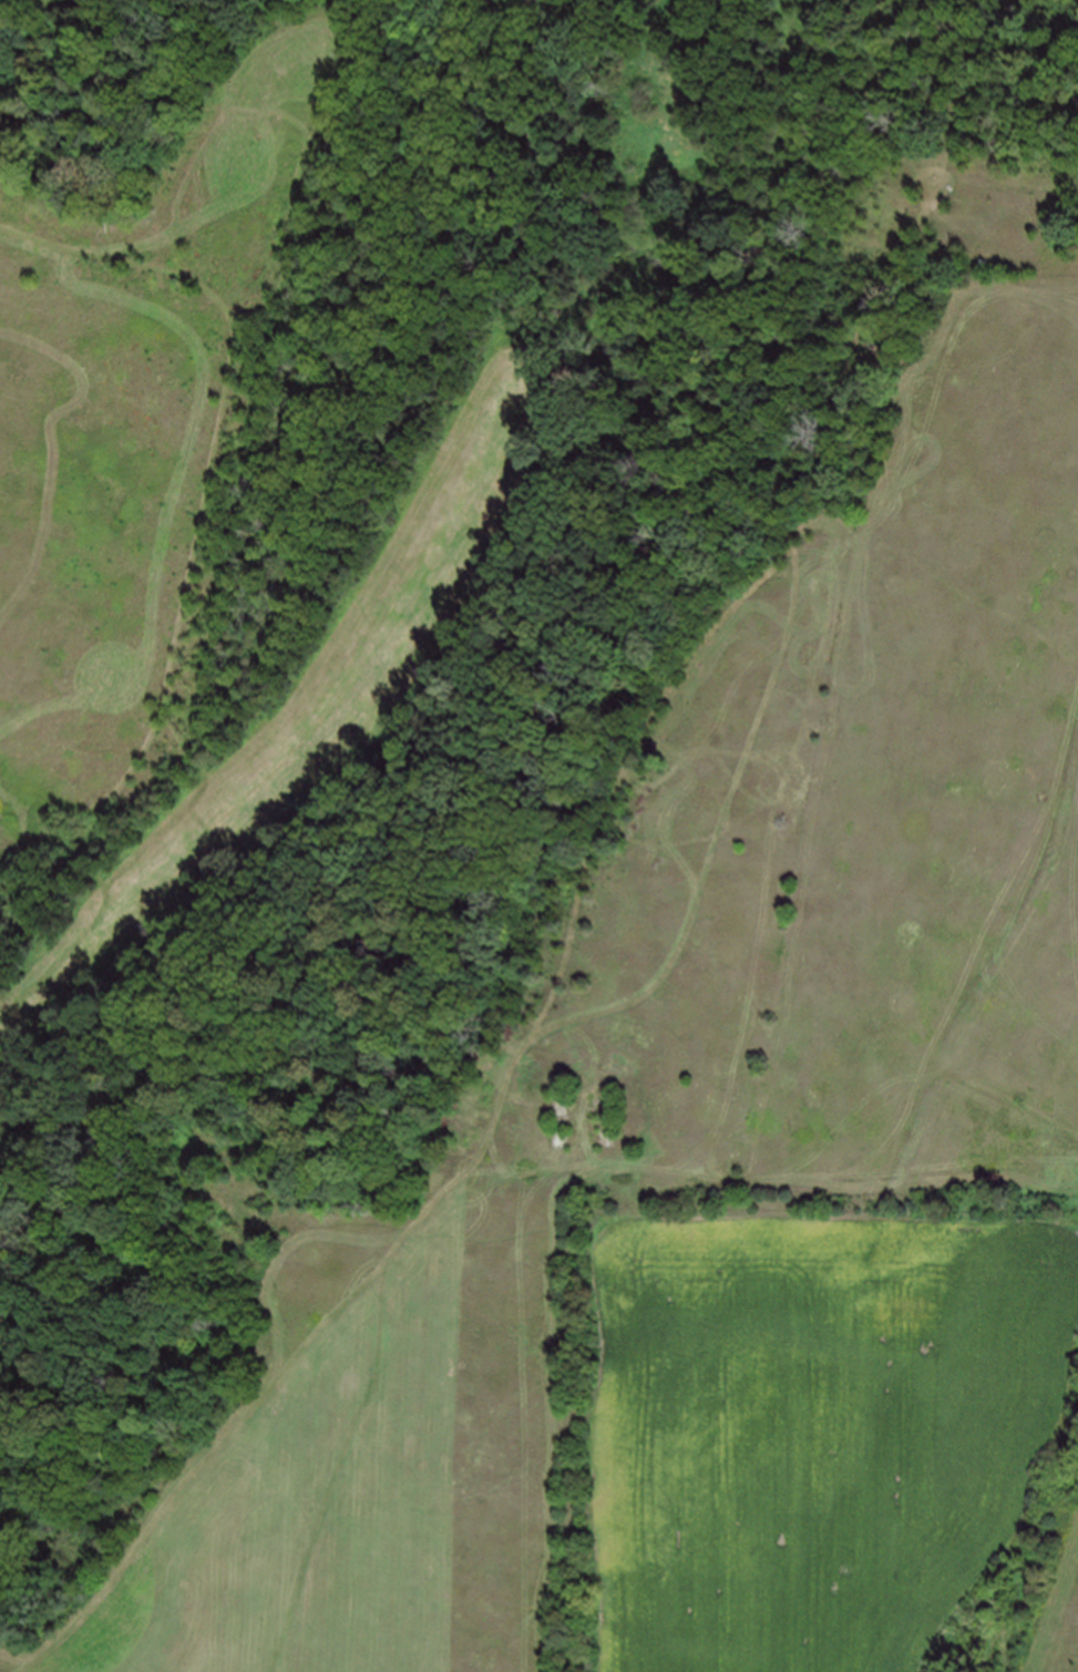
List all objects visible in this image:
road: (131, 264)
road: (225, 382)
road: (69, 822)
road: (584, 907)
road: (201, 1468)

